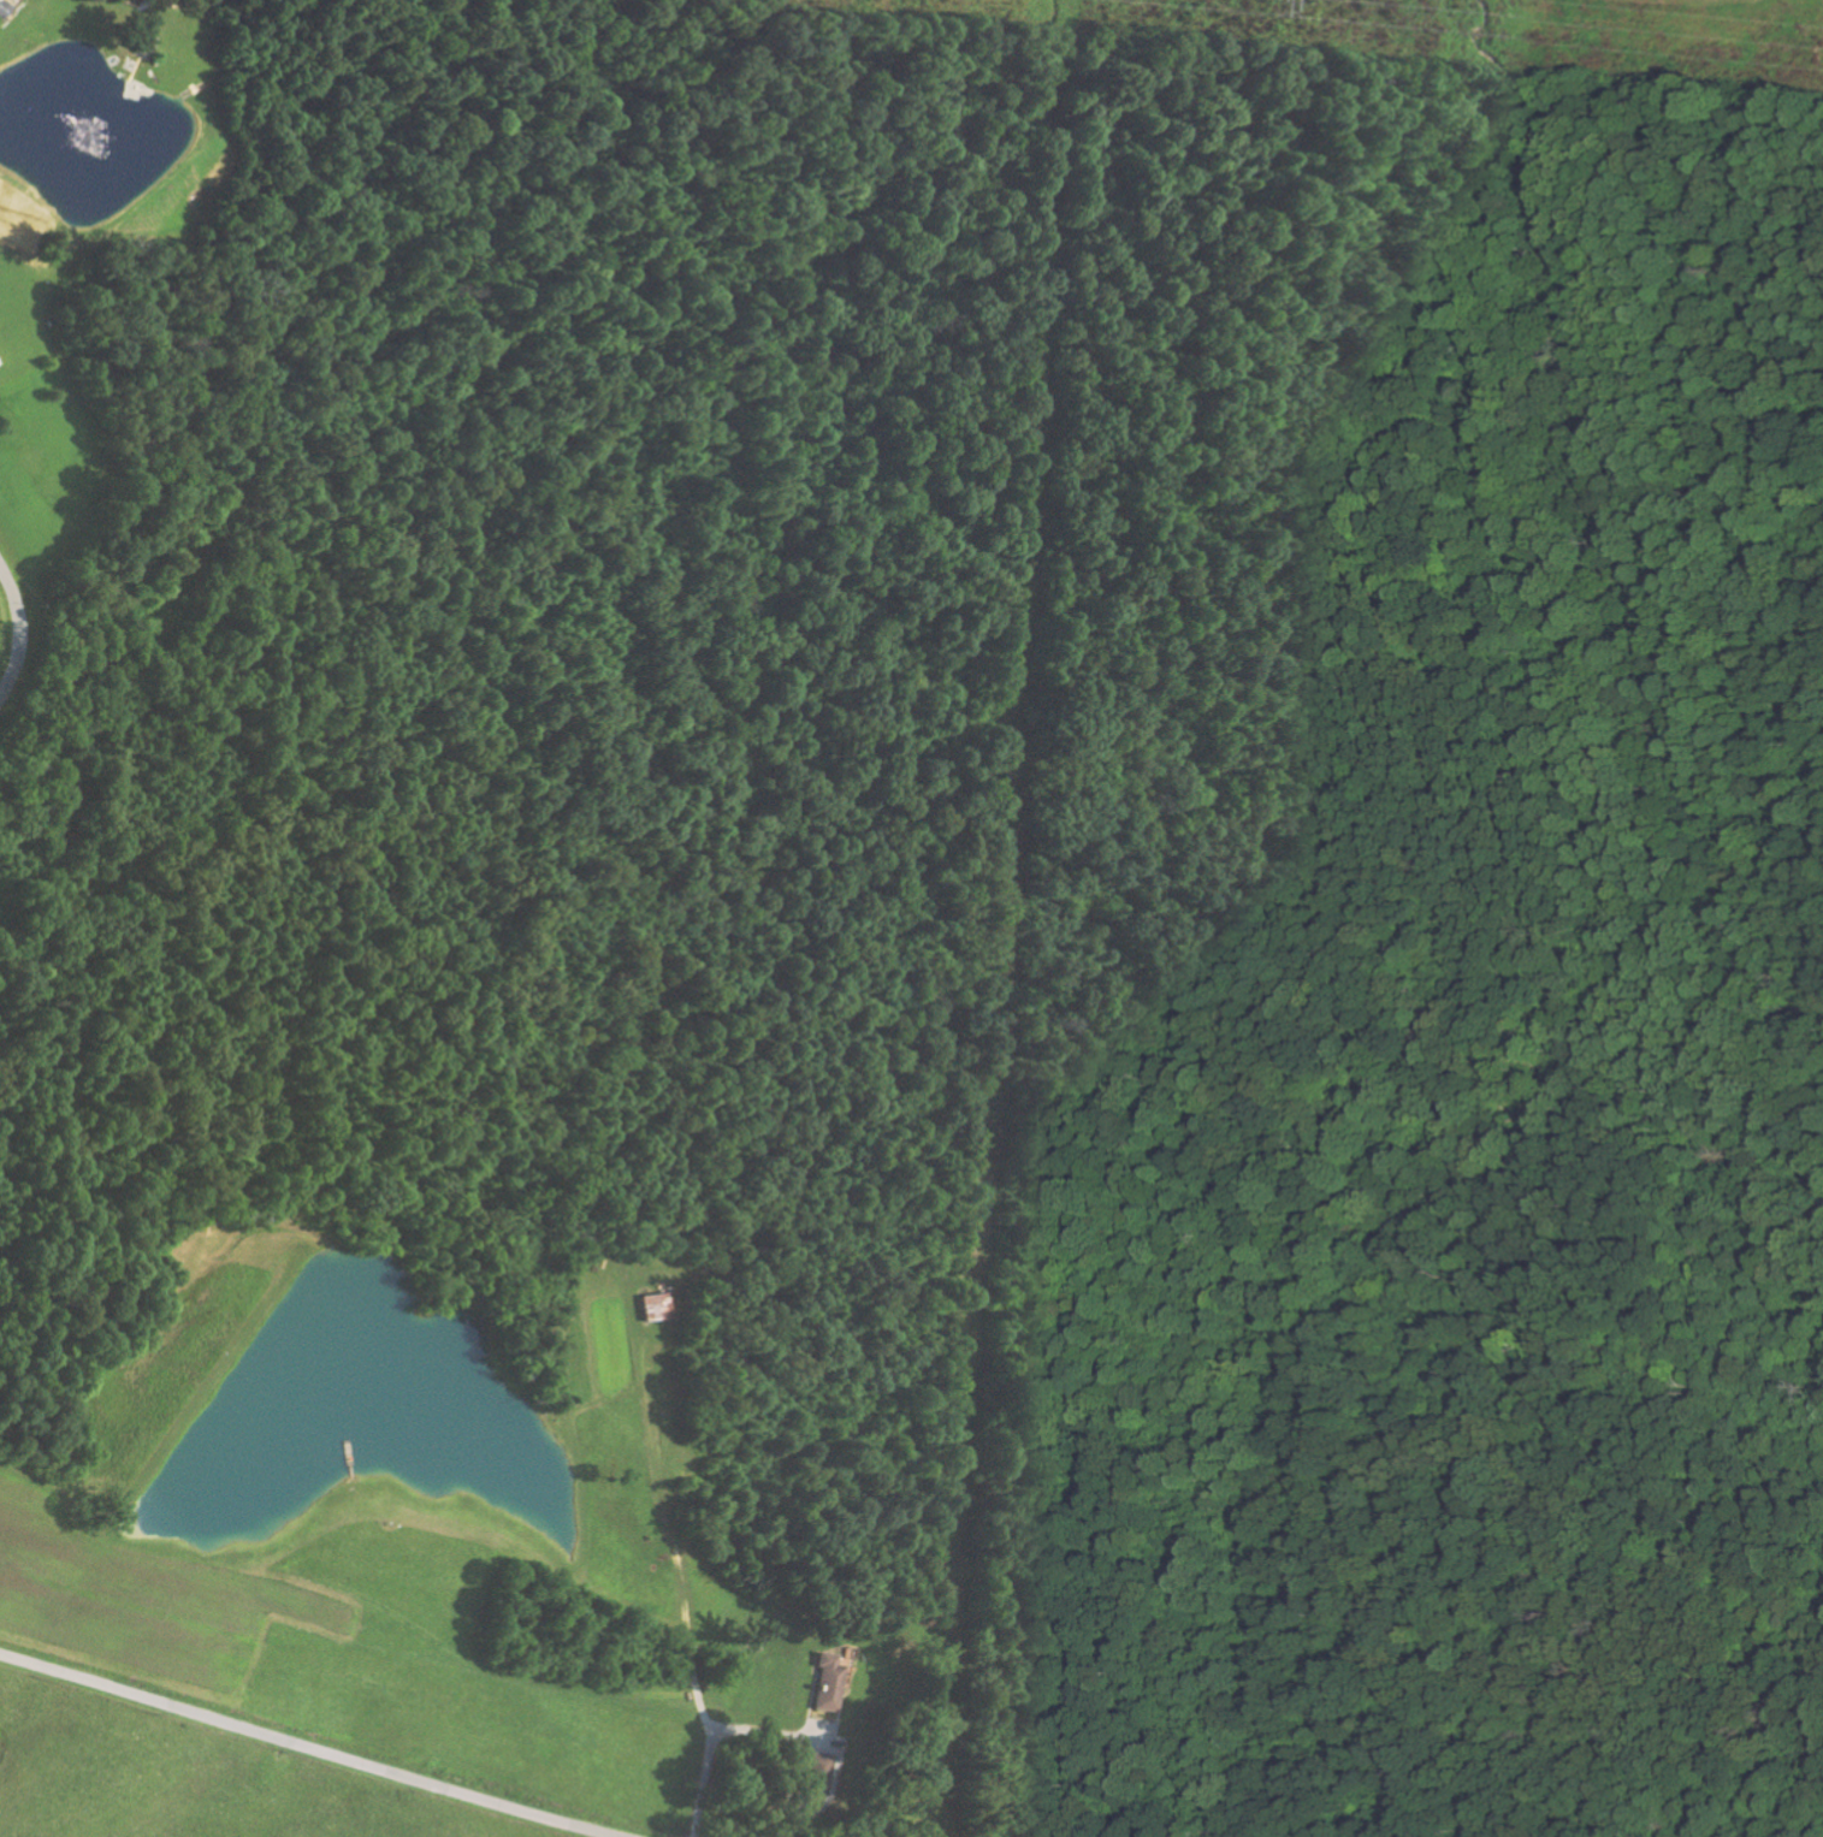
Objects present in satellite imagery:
building: (4, 7)
road: (22, 630)
building: (657, 1306)
building: (830, 1681)
road: (310, 1746)

